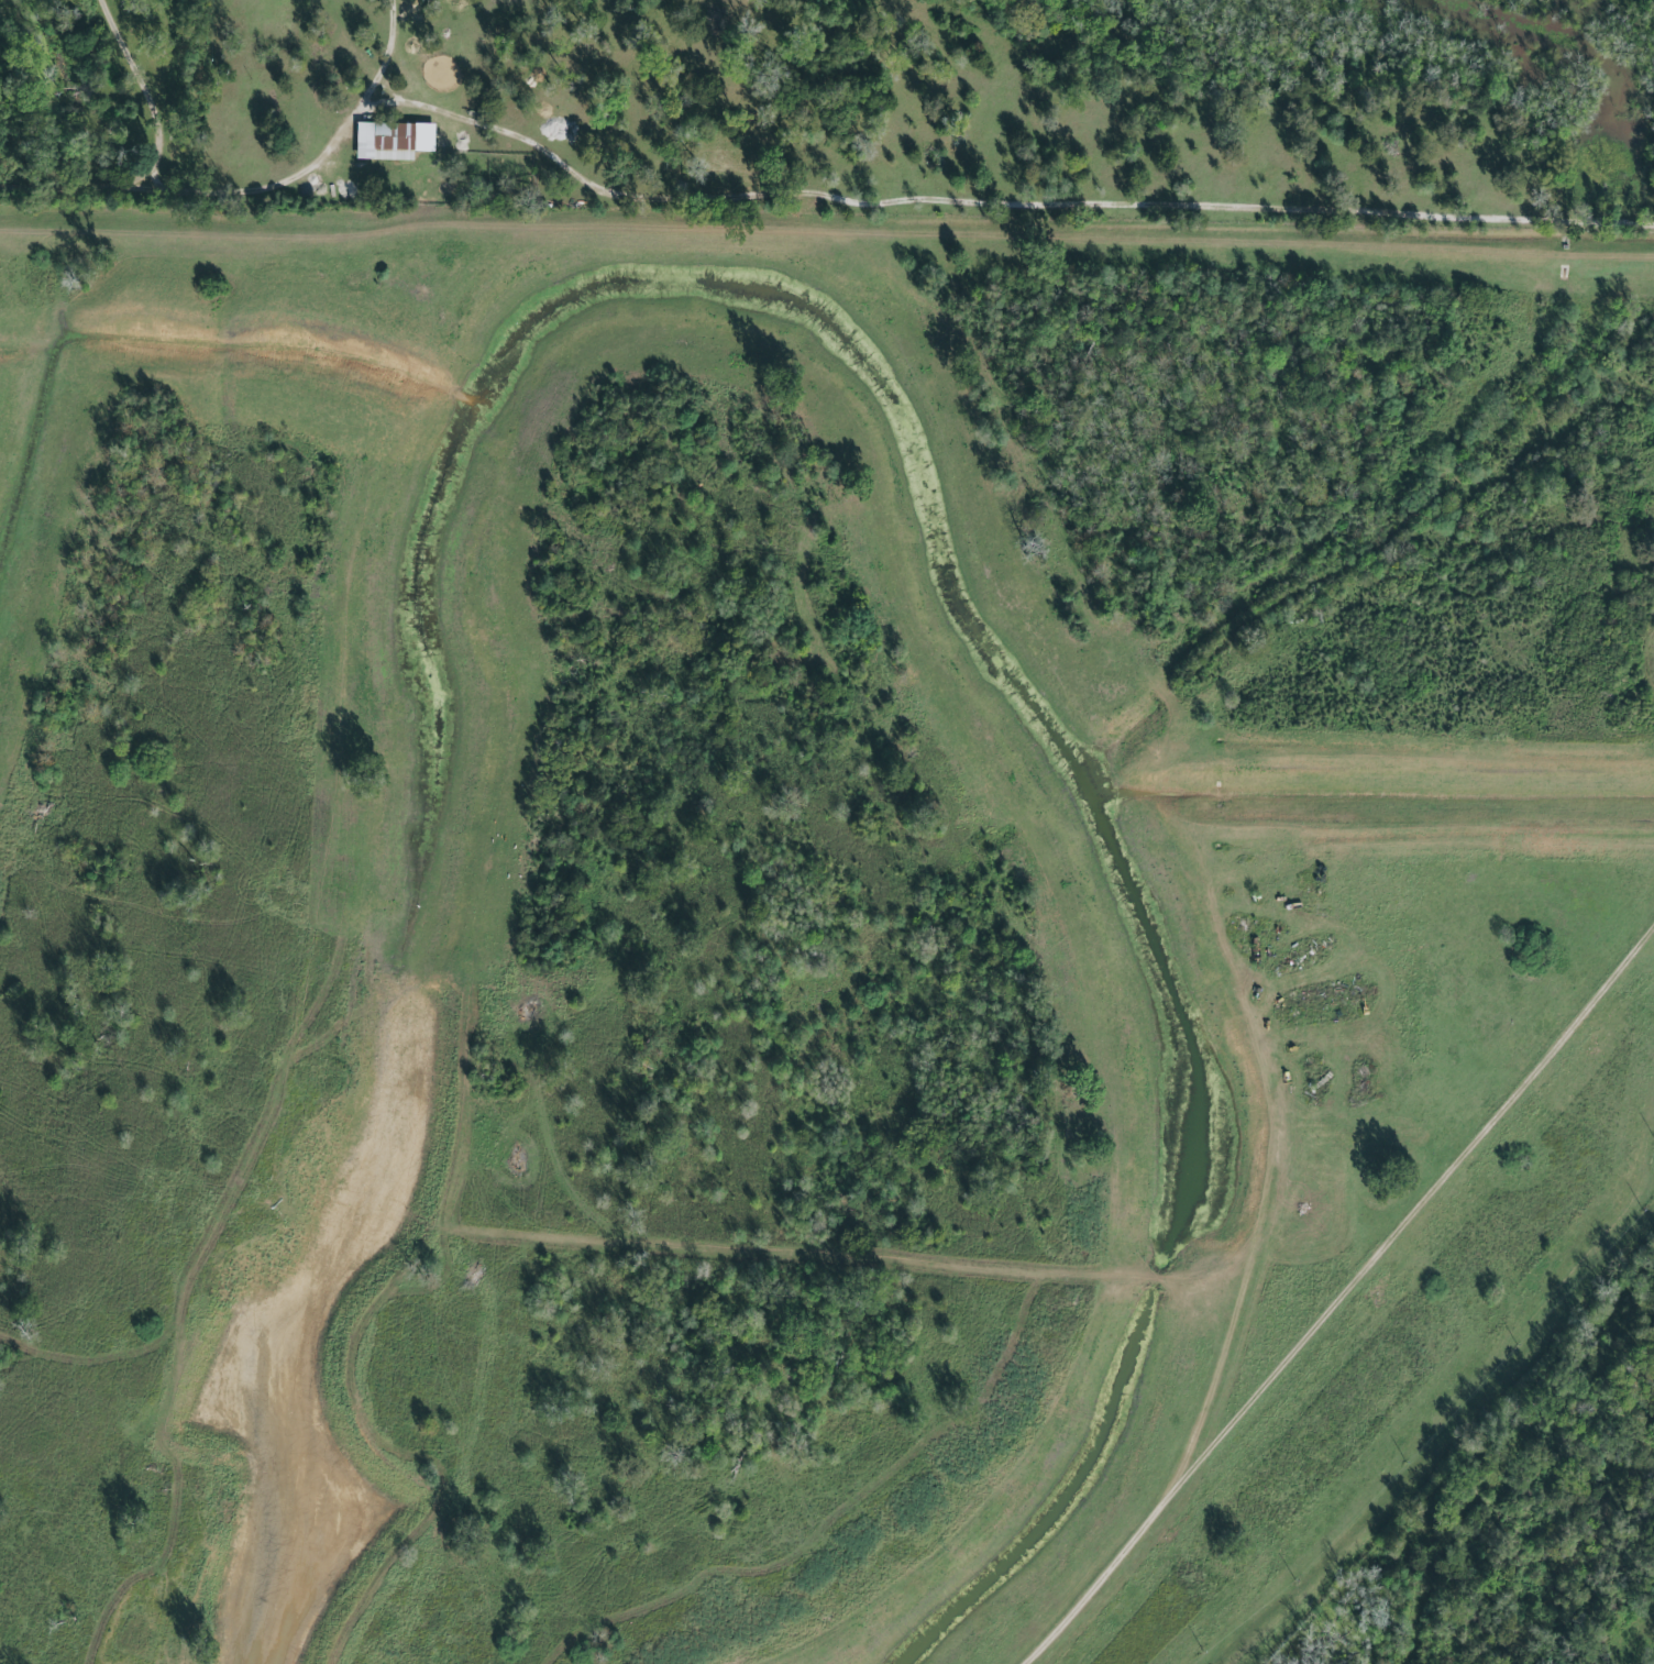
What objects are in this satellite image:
road: (147, 104)
road: (348, 120)
building: (393, 141)
road: (999, 200)
road: (350, 670)
road: (655, 1243)

